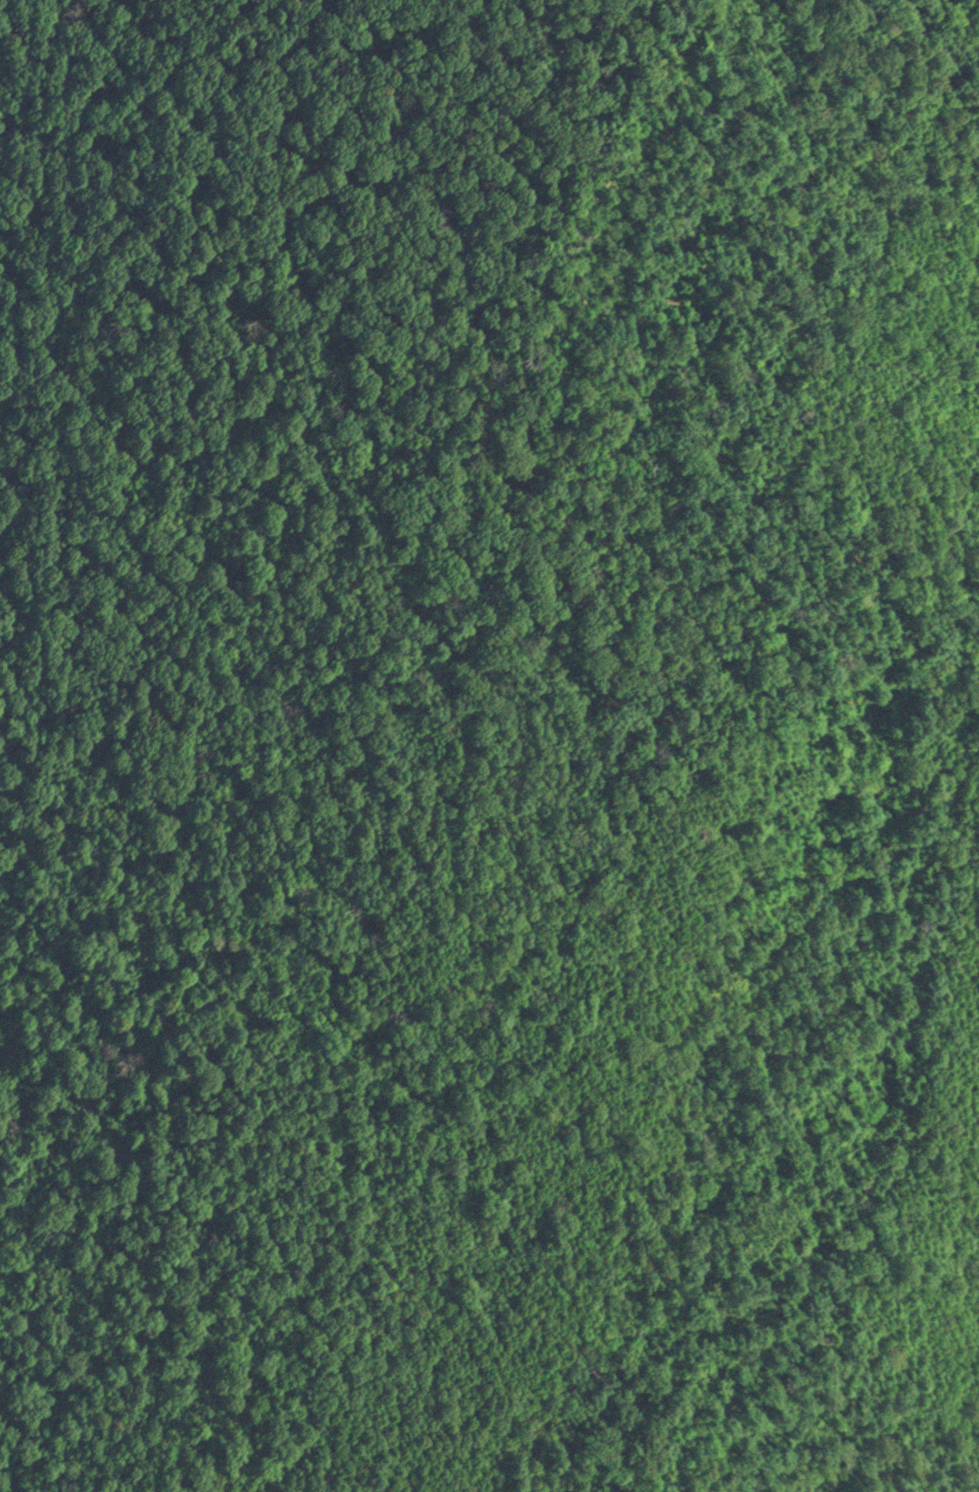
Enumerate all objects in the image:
road: (789, 91)
road: (708, 275)
road: (821, 296)
road: (653, 918)

